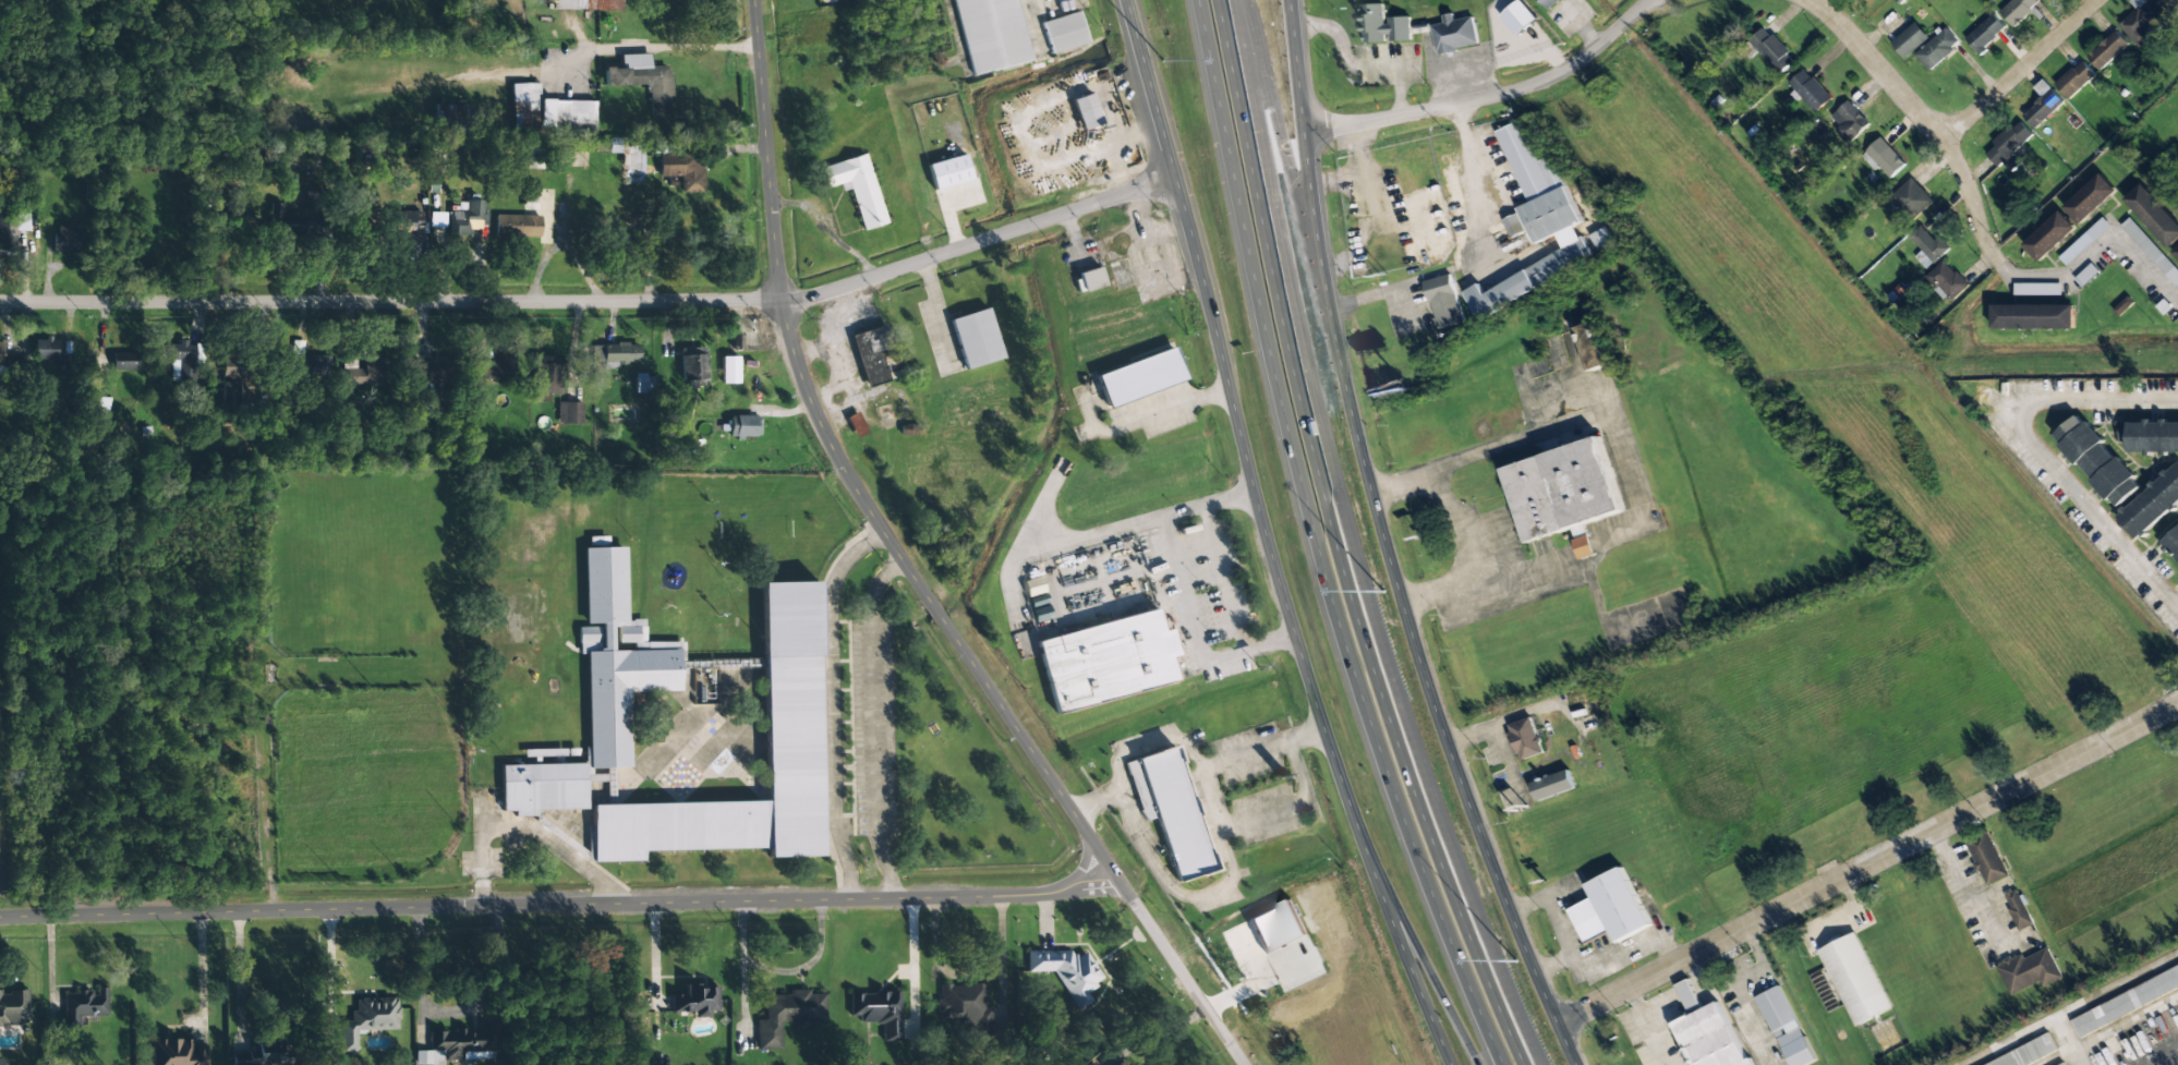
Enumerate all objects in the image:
building: (1549, 3)
building: (588, 4)
building: (2169, 7)
building: (2018, 10)
building: (2141, 22)
building: (1381, 25)
building: (1064, 33)
building: (1985, 33)
building: (991, 34)
building: (1454, 34)
building: (1910, 40)
building: (1937, 48)
building: (1771, 50)
building: (2107, 50)
road: (595, 55)
road: (2019, 71)
building: (2076, 80)
building: (643, 81)
building: (1810, 90)
road: (1488, 96)
building: (2043, 105)
building: (525, 107)
building: (1086, 112)
building: (449, 117)
building: (567, 118)
building: (1849, 122)
building: (2009, 146)
building: (1883, 158)
building: (683, 172)
building: (948, 172)
building: (857, 187)
building: (1911, 198)
building: (2090, 198)
road: (1976, 213)
building: (2154, 215)
building: (468, 217)
building: (437, 219)
building: (1537, 220)
building: (285, 222)
building: (1514, 225)
building: (409, 226)
building: (518, 226)
building: (12, 229)
building: (2049, 235)
building: (1601, 238)
building: (65, 240)
building: (2084, 241)
road: (978, 242)
building: (1927, 246)
building: (2151, 251)
building: (2176, 252)
building: (1091, 279)
building: (1948, 280)
building: (2037, 289)
road: (390, 301)
building: (1443, 302)
building: (2123, 306)
building: (2033, 316)
building: (976, 338)
building: (736, 341)
building: (1593, 347)
building: (45, 349)
building: (872, 353)
building: (1, 360)
building: (182, 361)
building: (123, 362)
building: (312, 366)
building: (693, 366)
building: (428, 368)
building: (496, 368)
building: (367, 373)
building: (548, 376)
building: (1140, 377)
building: (232, 382)
building: (643, 383)
building: (101, 409)
building: (569, 413)
building: (742, 426)
building: (2150, 437)
road: (2026, 444)
building: (2097, 460)
building: (1563, 493)
building: (2152, 504)
road: (1268, 540)
road: (1315, 543)
road: (1338, 543)
building: (2171, 543)
road: (1384, 545)
road: (908, 568)
building: (1105, 661)
helipad: (1578, 676)
building: (790, 692)
building: (596, 693)
building: (1583, 700)
road: (1304, 735)
building: (1525, 738)
road: (1126, 753)
road: (1241, 754)
building: (1553, 785)
road: (1206, 798)
road: (1287, 806)
building: (1169, 810)
building: (1985, 857)
road: (1867, 863)
road: (1173, 889)
road: (559, 906)
building: (2018, 907)
building: (1609, 908)
building: (2028, 970)
building: (1066, 971)
road: (1428, 979)
building: (1854, 979)
building: (694, 1000)
building: (2125, 1000)
building: (82, 1004)
building: (13, 1007)
building: (1775, 1007)
building: (966, 1009)
building: (876, 1010)
building: (787, 1015)
building: (367, 1019)
building: (1706, 1031)
building: (458, 1045)
building: (176, 1052)
building: (2029, 1052)
building: (264, 1054)
building: (1124, 1063)
building: (2058, 1063)
building: (1091, 1064)

